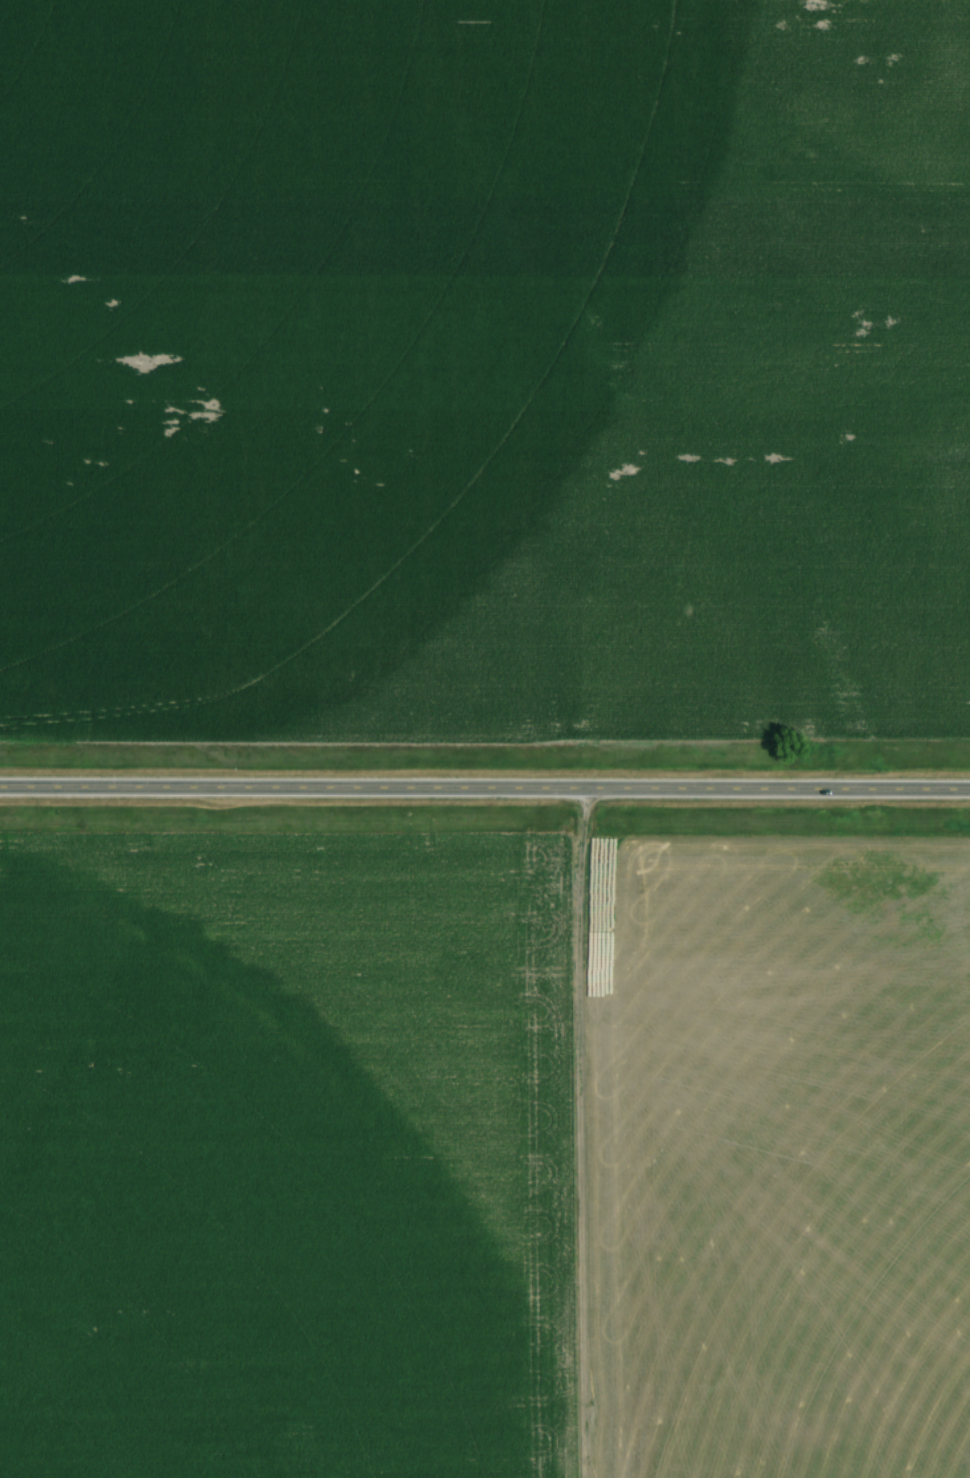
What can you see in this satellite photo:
road: (484, 794)

